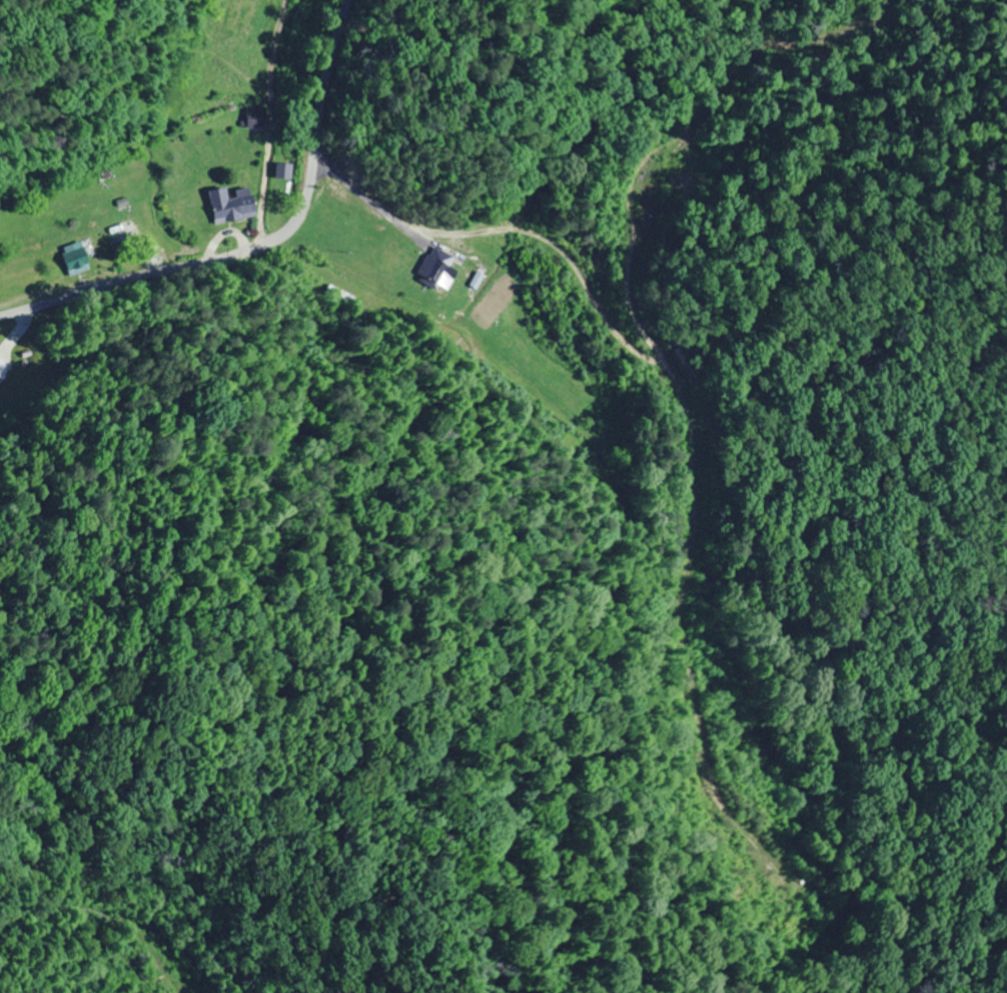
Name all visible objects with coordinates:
building: (255, 117)
building: (231, 205)
road: (261, 248)
building: (78, 256)
building: (437, 268)
building: (0, 378)

